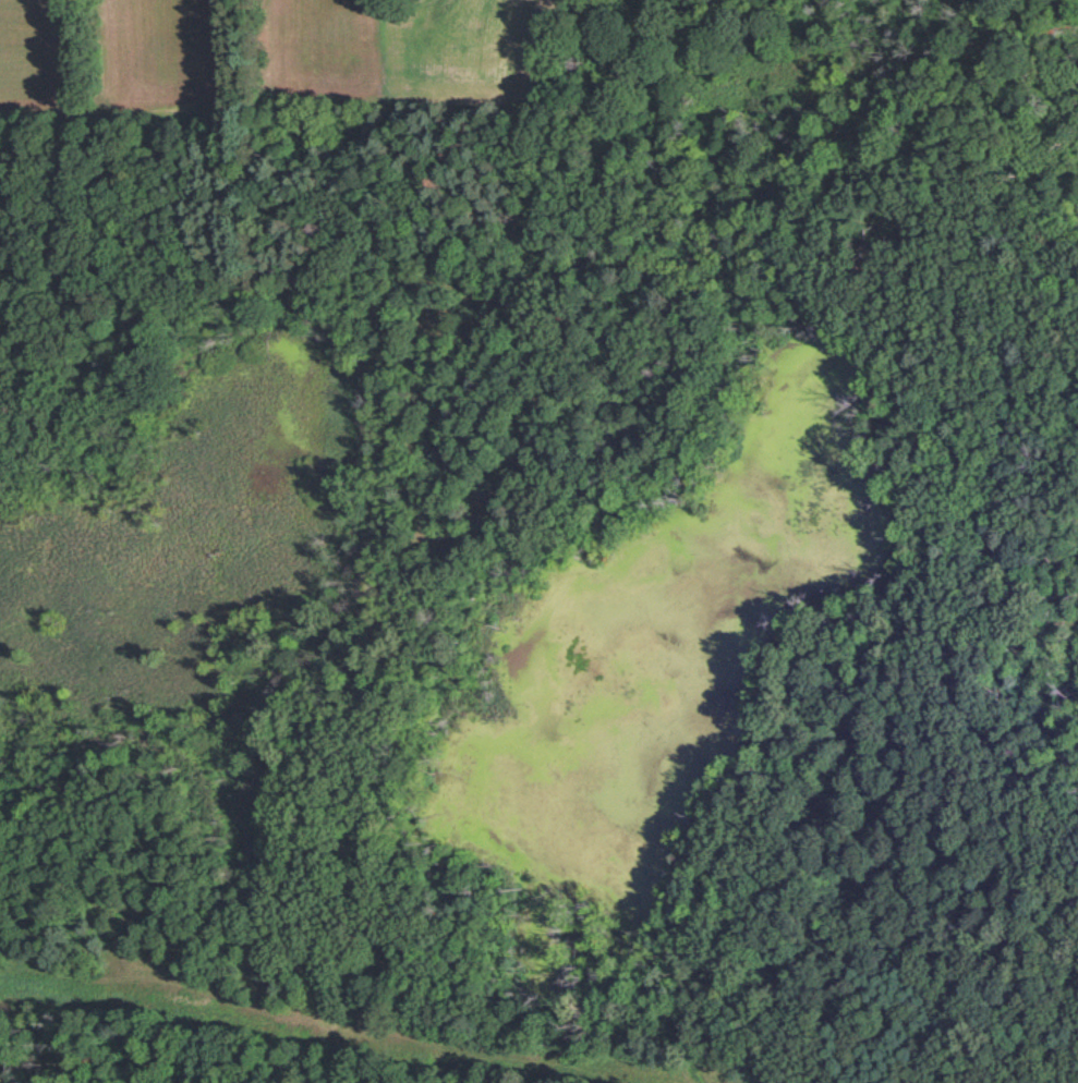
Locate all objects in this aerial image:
crop: (25, 51)
crop: (396, 53)
crop: (162, 56)

